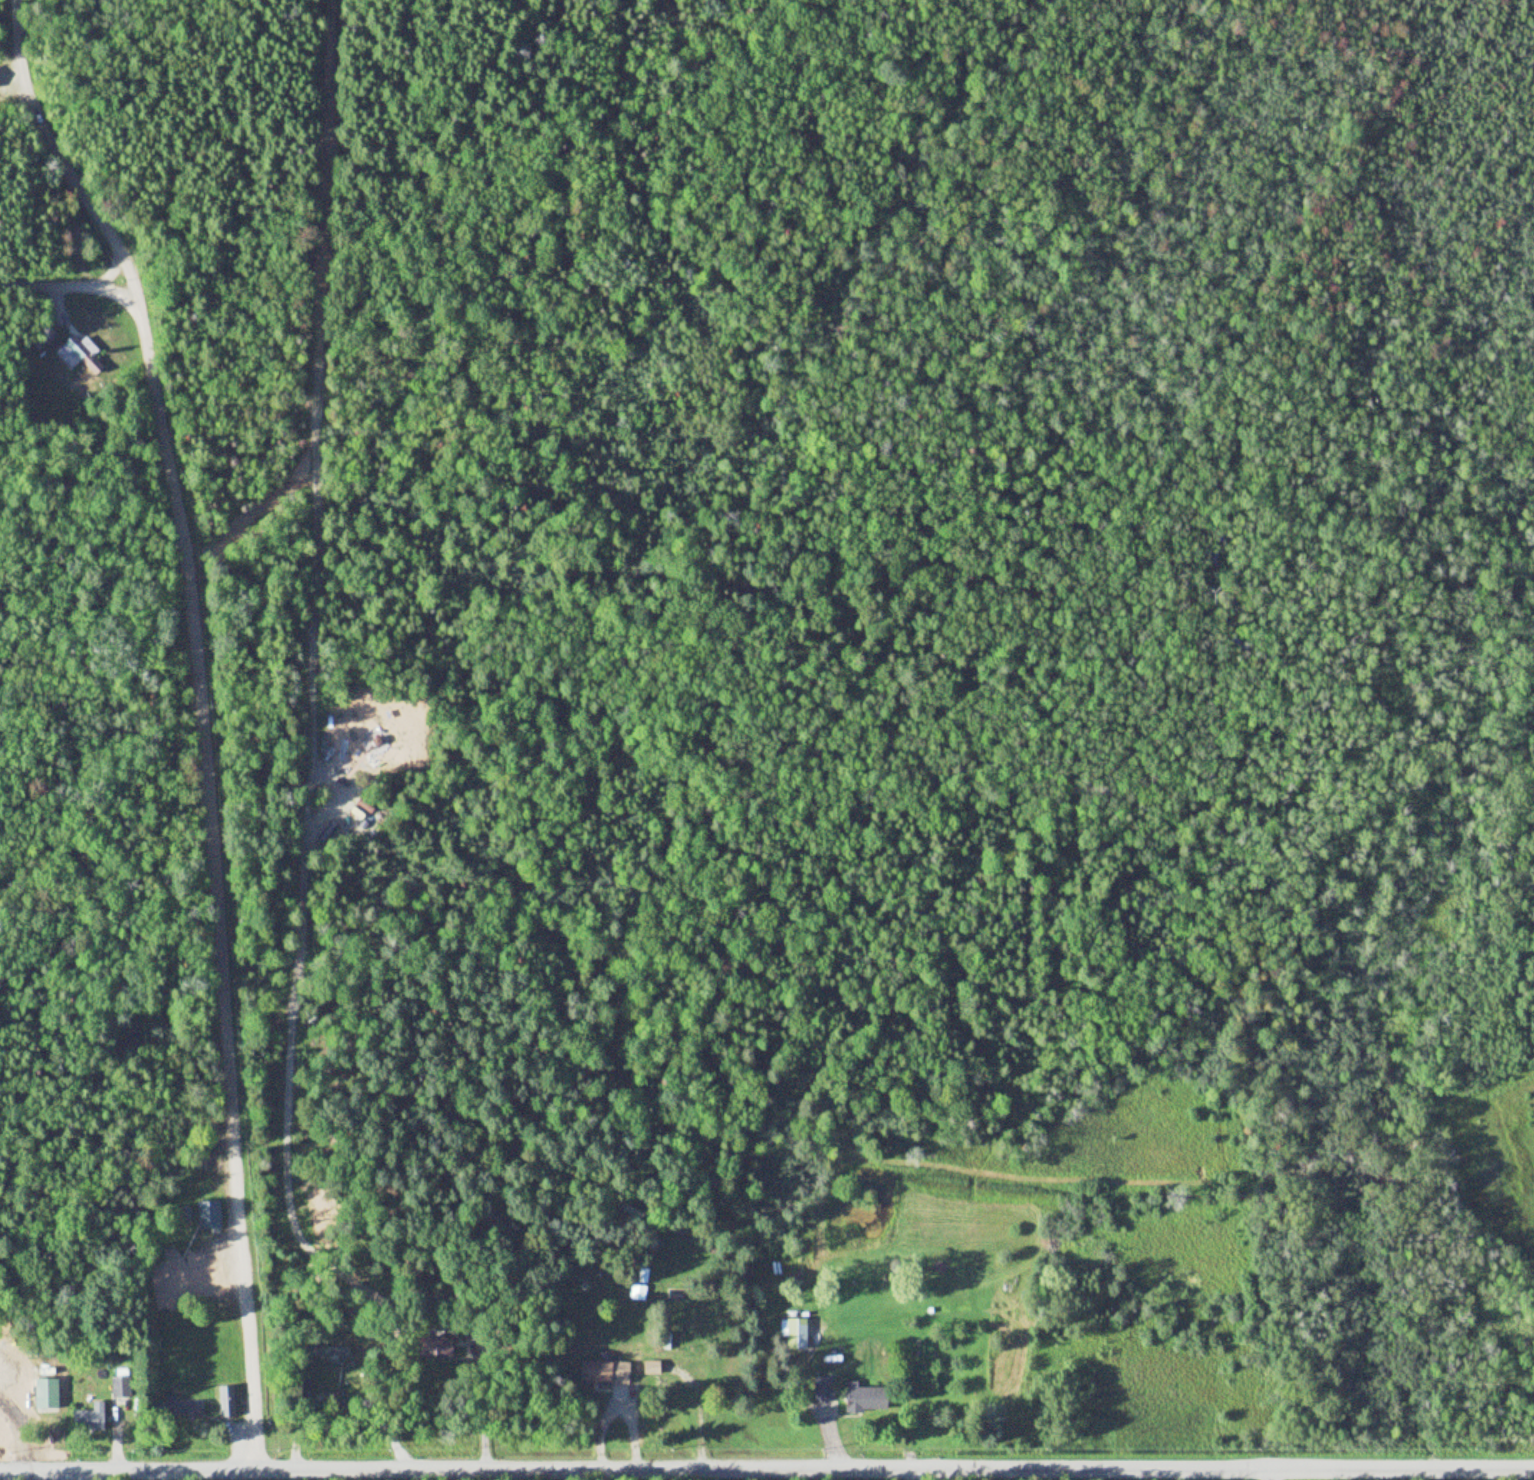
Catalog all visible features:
road: (57, 161)
road: (107, 273)
road: (70, 286)
building: (82, 354)
building: (347, 728)
road: (211, 889)
building: (209, 1215)
building: (796, 1340)
building: (436, 1349)
building: (605, 1373)
building: (120, 1385)
building: (822, 1390)
building: (45, 1394)
building: (865, 1399)
building: (225, 1402)
building: (181, 1407)
building: (5, 1417)
building: (89, 1419)
road: (766, 1470)
road: (57, 1475)

